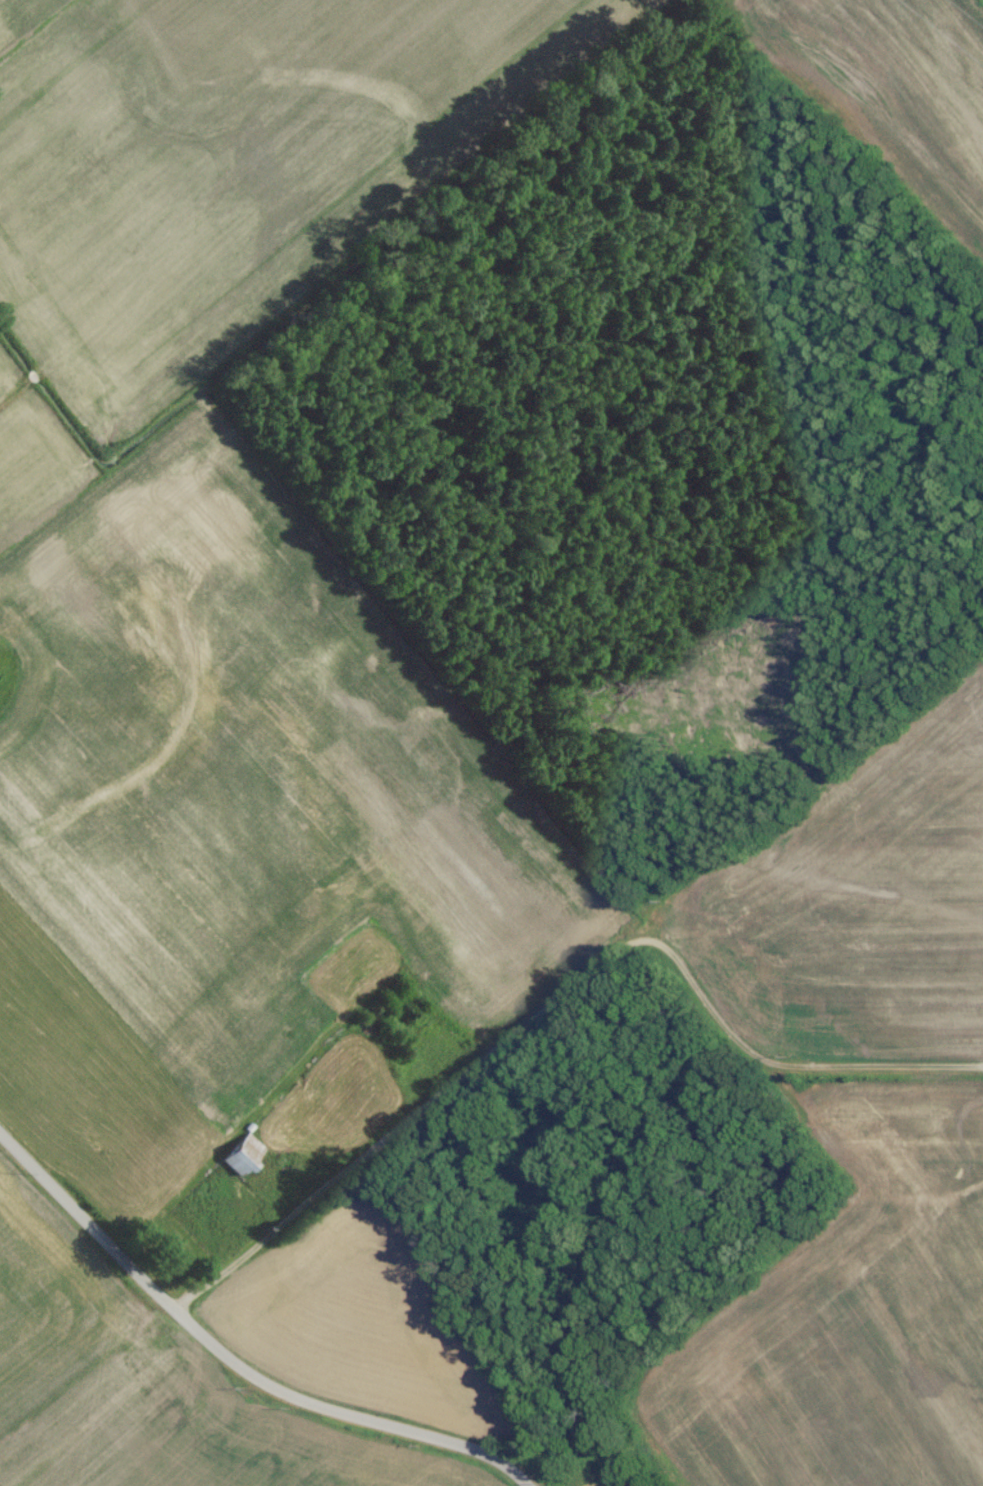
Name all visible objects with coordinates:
road: (559, 998)
building: (249, 1131)
building: (244, 1159)
road: (230, 1363)

